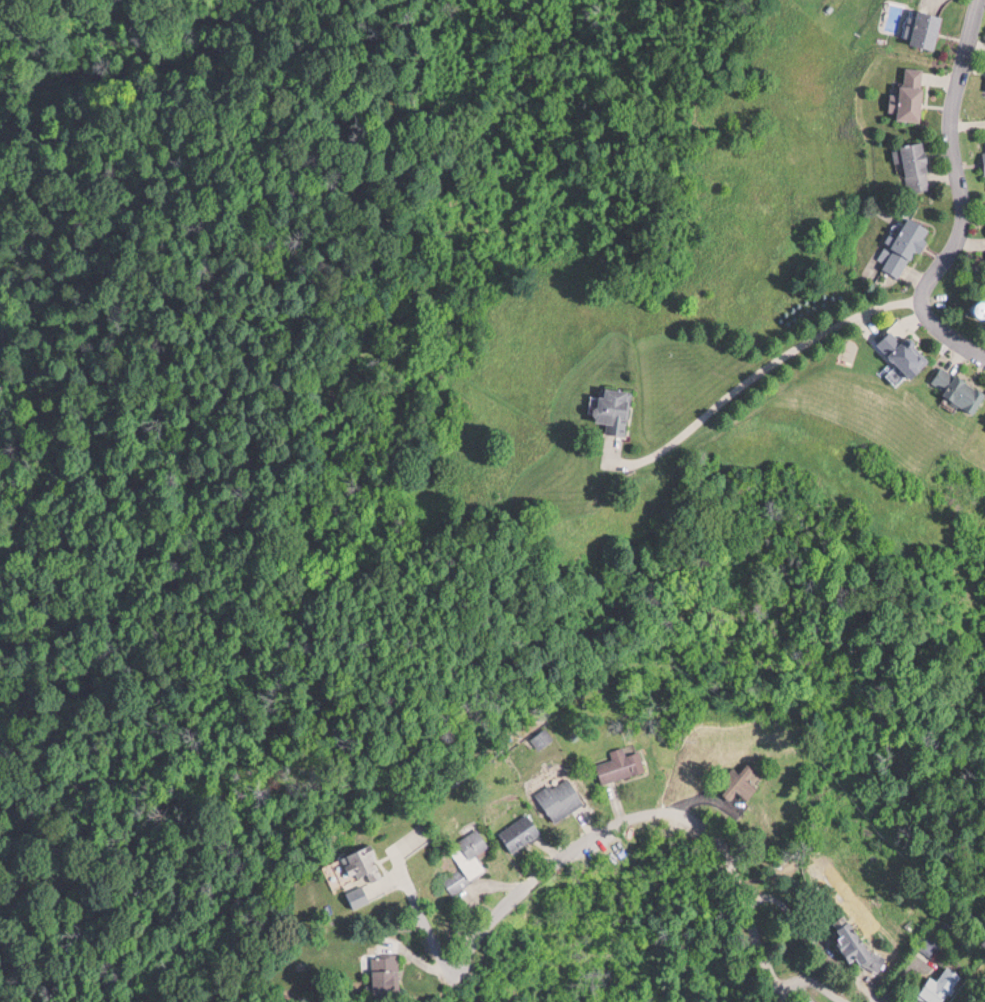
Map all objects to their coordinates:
building: (924, 26)
building: (914, 91)
road: (954, 155)
building: (916, 163)
building: (904, 247)
building: (979, 307)
road: (948, 332)
building: (907, 351)
building: (960, 386)
building: (615, 407)
building: (623, 765)
building: (741, 782)
building: (563, 797)
road: (656, 812)
building: (522, 831)
building: (470, 860)
building: (365, 862)
building: (361, 895)
building: (855, 939)
building: (928, 943)
building: (391, 975)
road: (819, 984)

